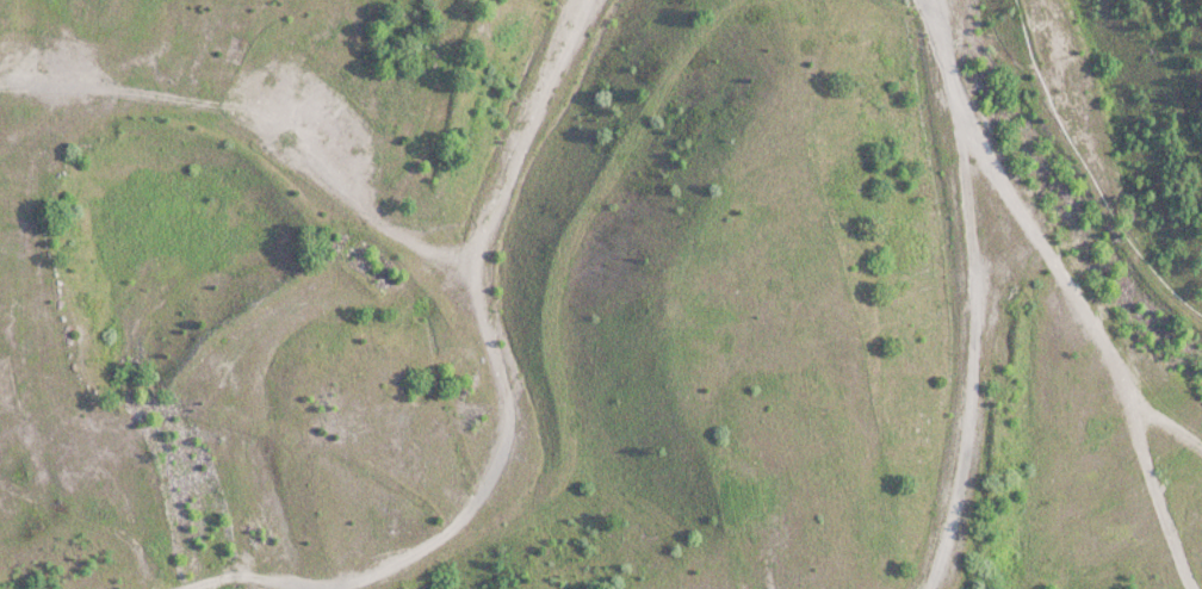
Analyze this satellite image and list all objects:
quarry: (601, 294)

